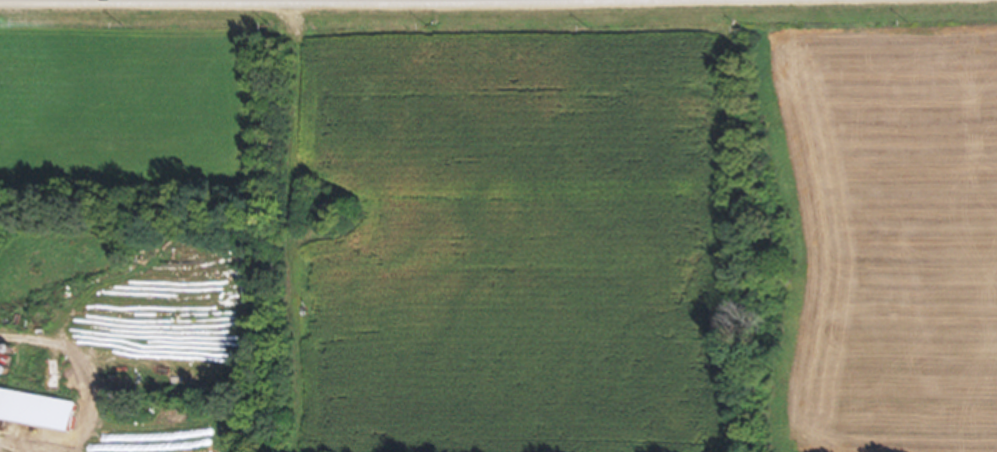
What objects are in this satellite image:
road: (10, 0)

